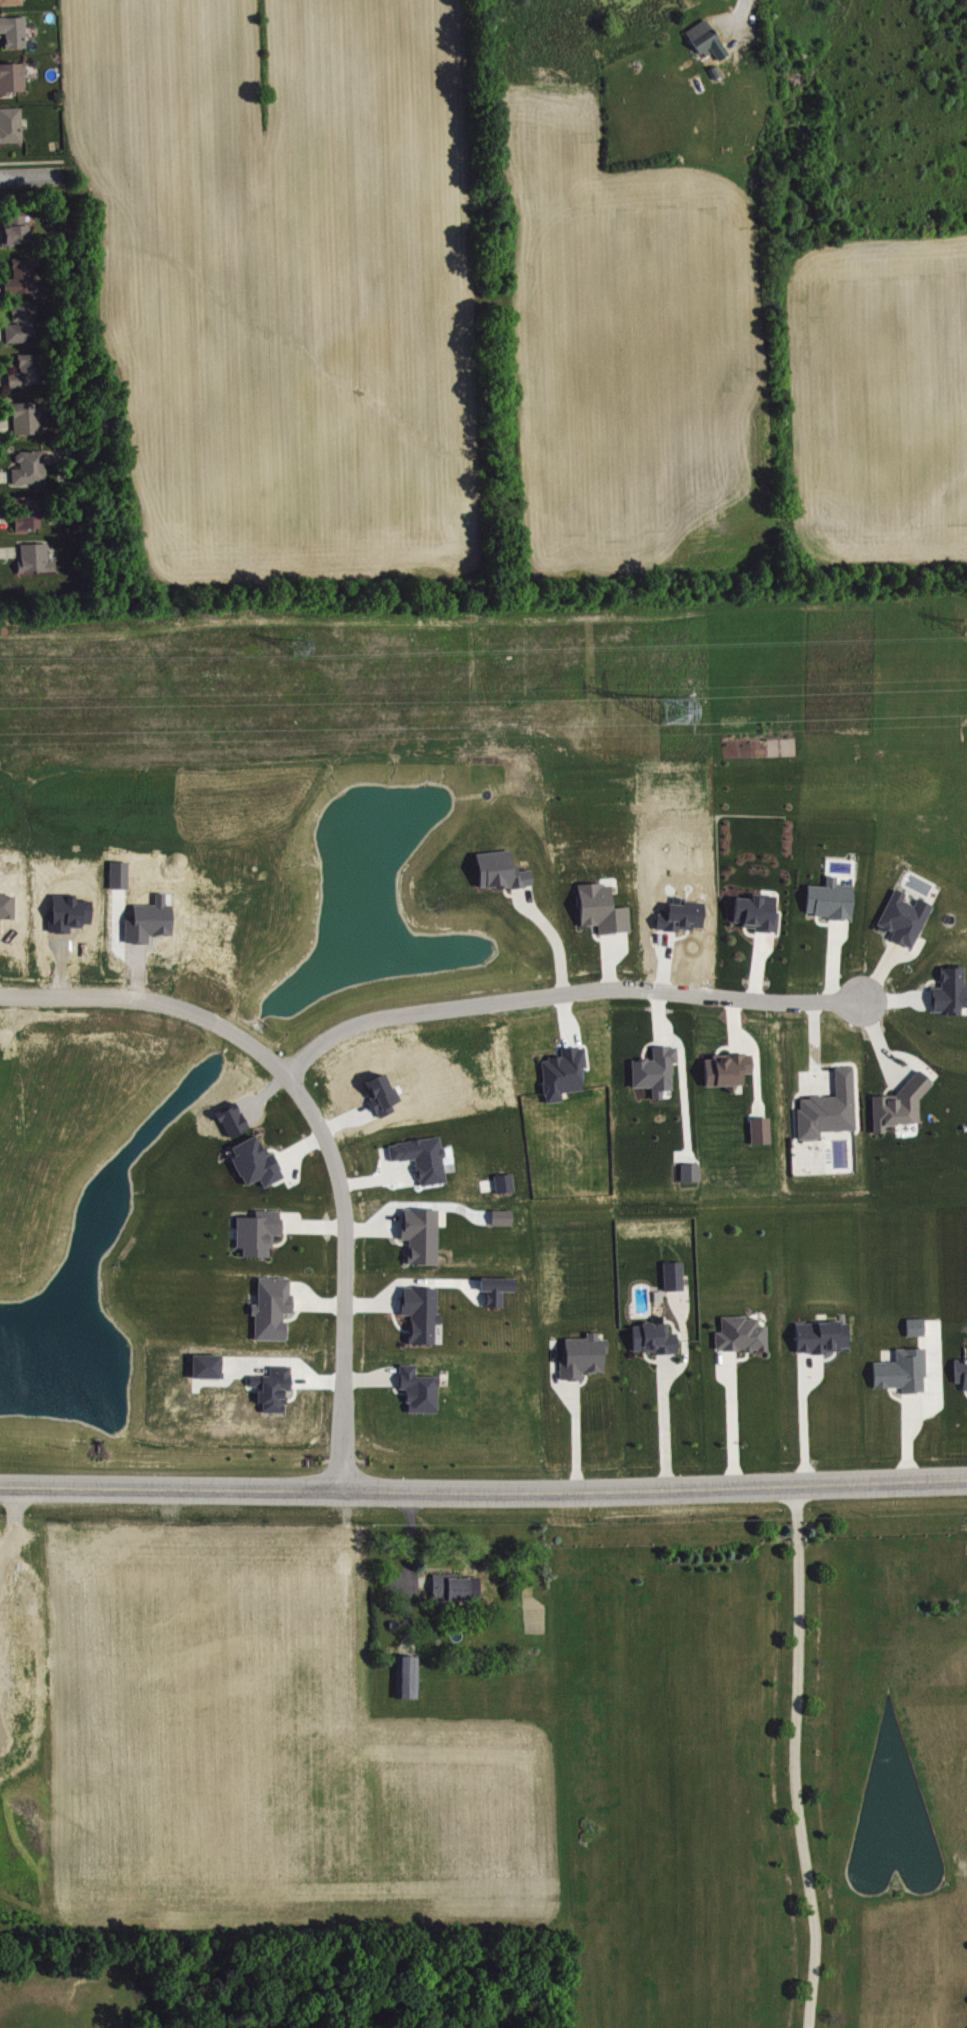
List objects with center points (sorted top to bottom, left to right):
building: (12, 2)
road: (747, 9)
building: (15, 31)
building: (707, 38)
building: (14, 77)
building: (12, 125)
road: (32, 181)
building: (18, 229)
building: (26, 276)
building: (11, 286)
building: (25, 323)
building: (30, 371)
building: (29, 418)
building: (32, 469)
building: (30, 514)
building: (37, 558)
power tower: (300, 646)
power tower: (672, 715)
building: (502, 871)
building: (832, 900)
building: (759, 913)
building: (907, 919)
road: (558, 941)
building: (951, 992)
road: (566, 994)
building: (729, 1070)
building: (658, 1071)
building: (901, 1106)
building: (831, 1109)
road: (319, 1126)
building: (762, 1131)
building: (426, 1159)
building: (257, 1162)
building: (506, 1184)
building: (260, 1233)
building: (423, 1235)
building: (675, 1277)
building: (498, 1290)
building: (274, 1308)
building: (422, 1313)
building: (917, 1327)
building: (743, 1335)
building: (824, 1337)
building: (656, 1339)
building: (905, 1372)
building: (962, 1372)
building: (275, 1389)
building: (421, 1391)
road: (922, 1411)
road: (807, 1425)
road: (735, 1426)
road: (668, 1428)
road: (575, 1440)
road: (483, 1494)
road: (408, 1557)
building: (450, 1591)
building: (409, 1677)
road: (799, 1759)

